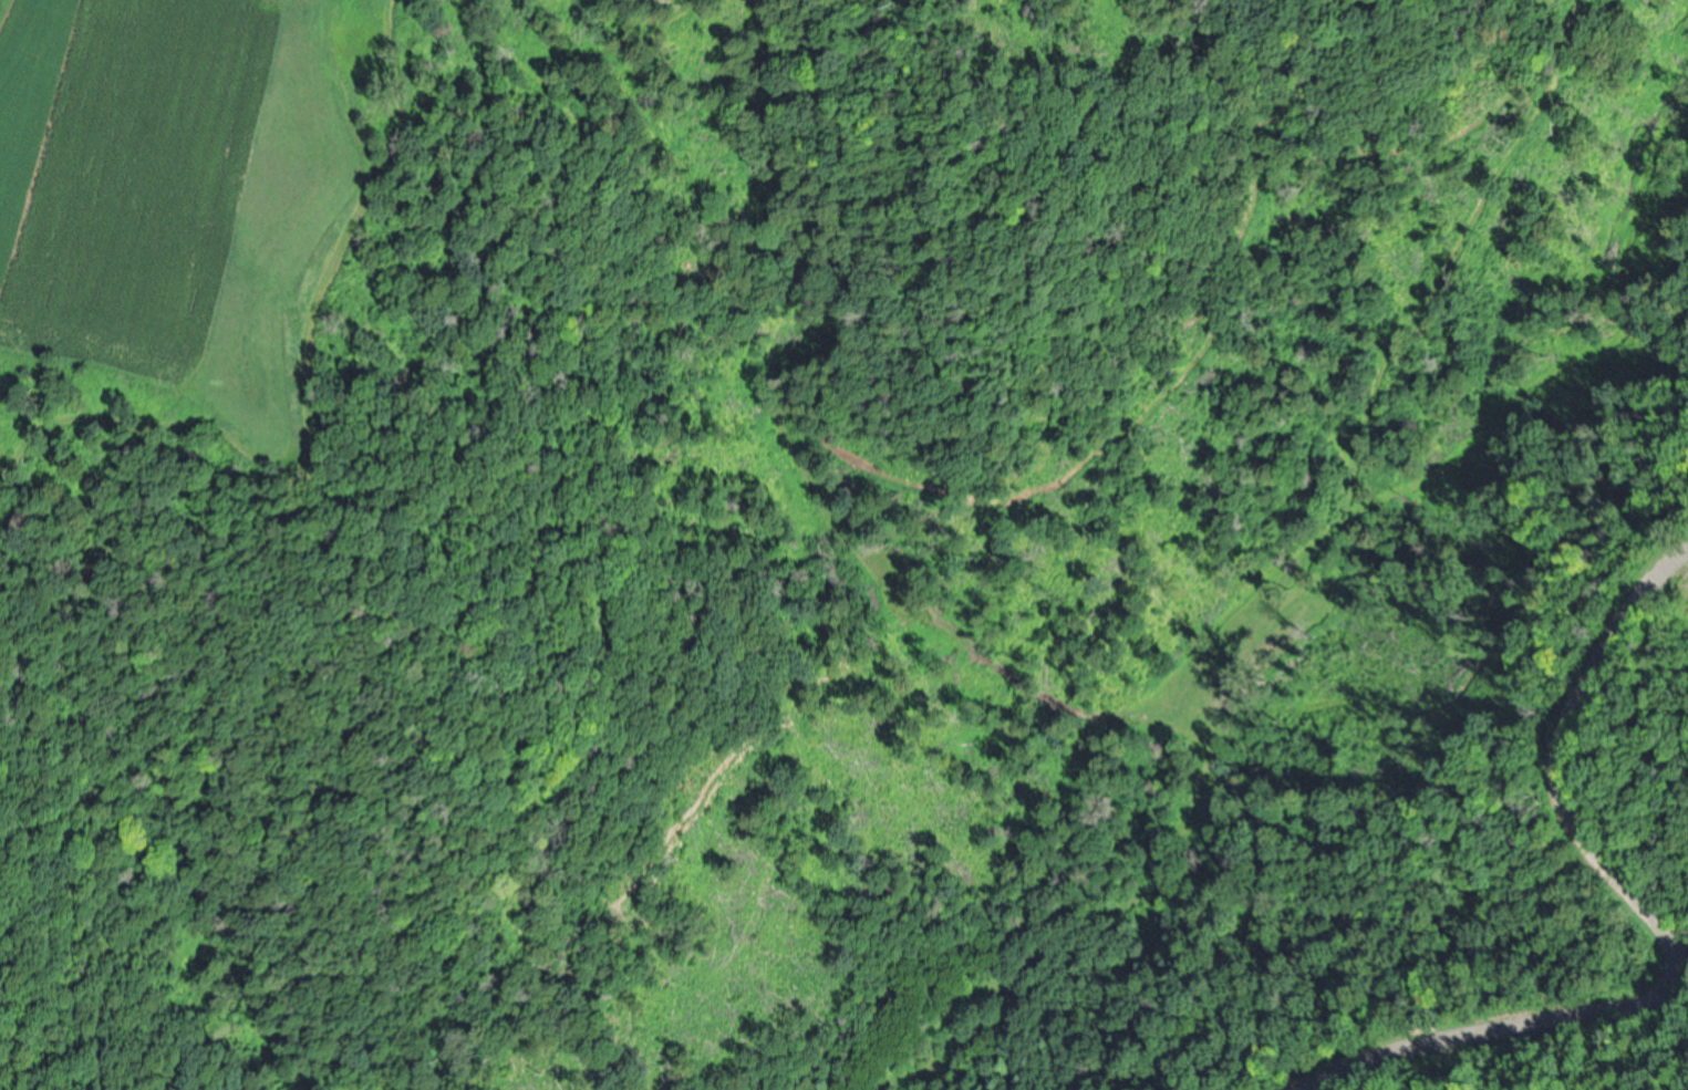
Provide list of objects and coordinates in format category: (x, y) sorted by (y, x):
road: (1658, 922)

